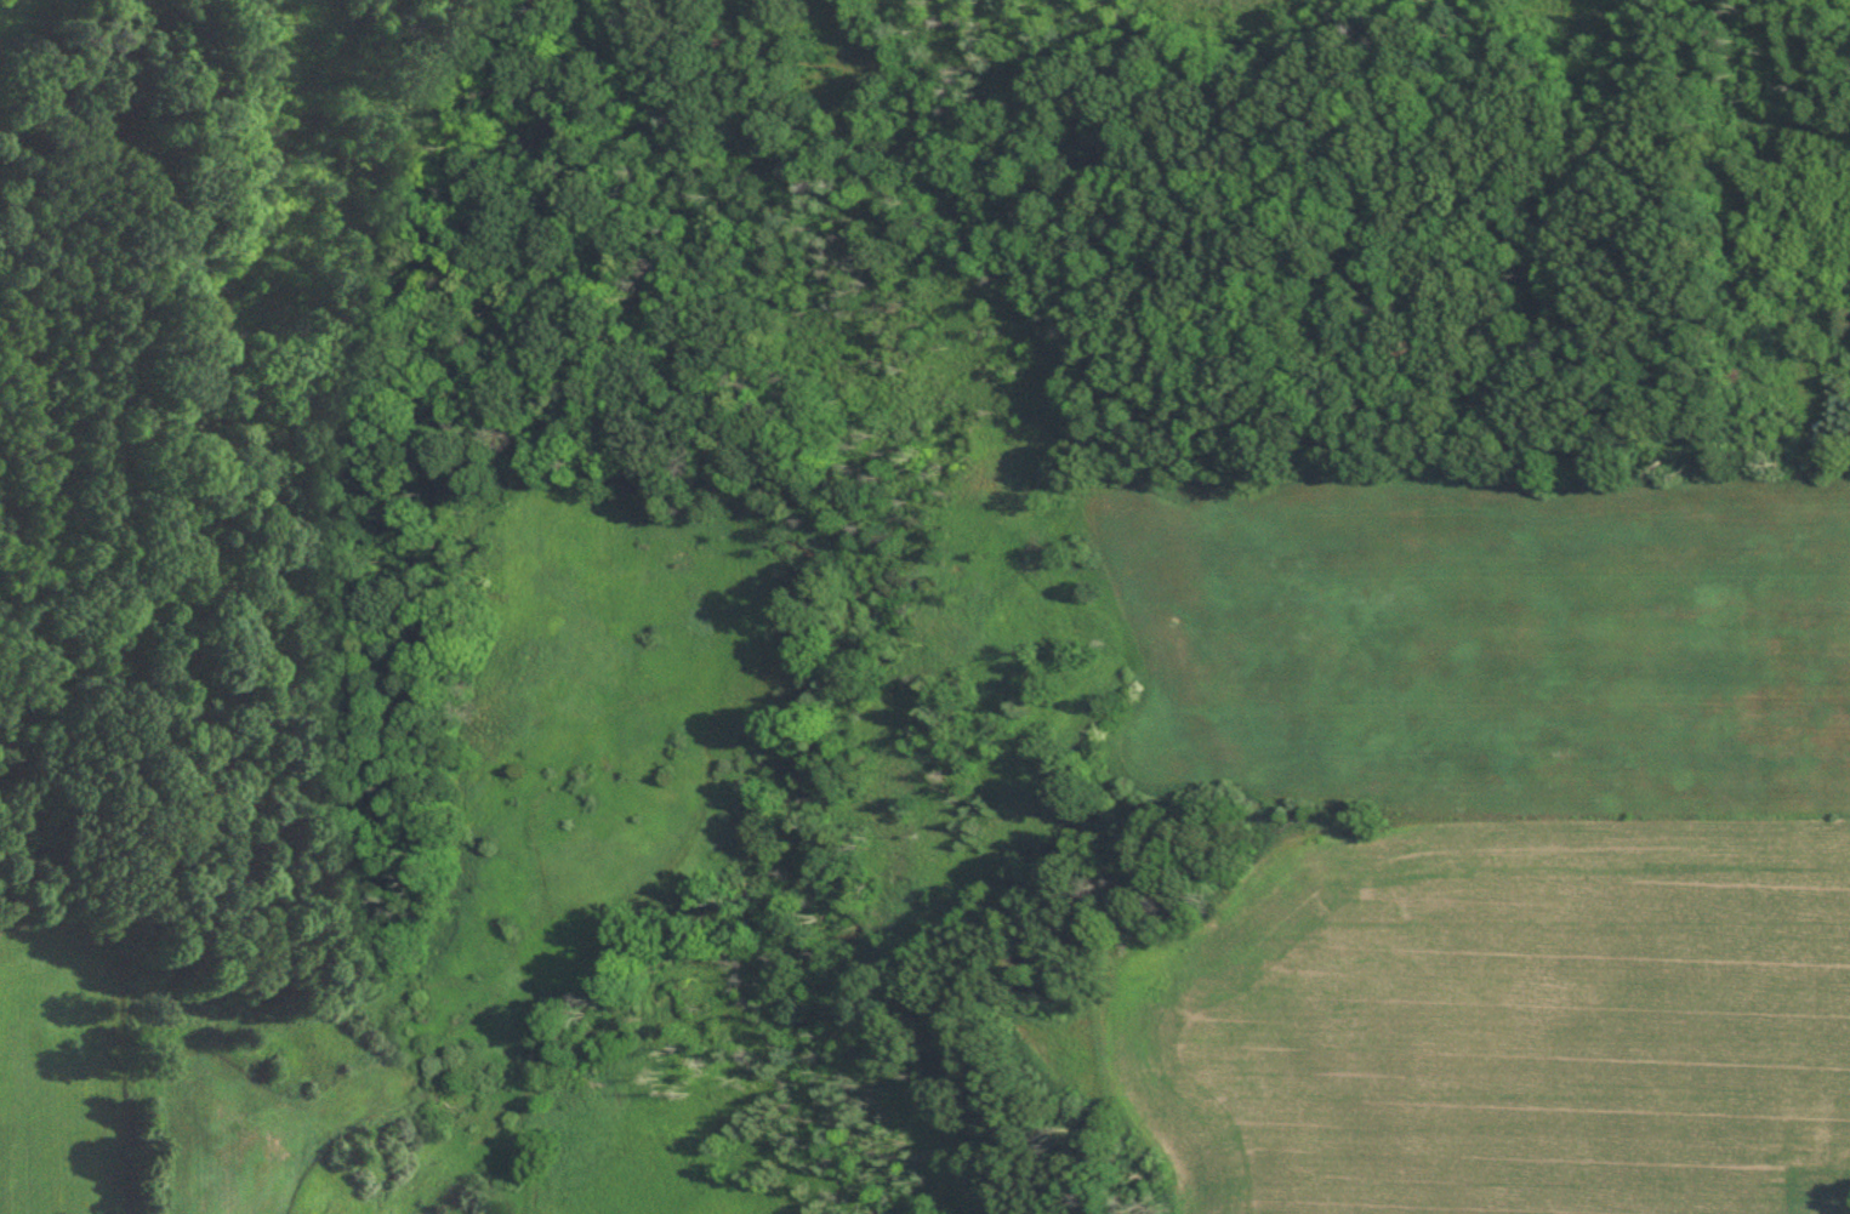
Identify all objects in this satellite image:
road: (550, 5)
road: (1142, 44)

